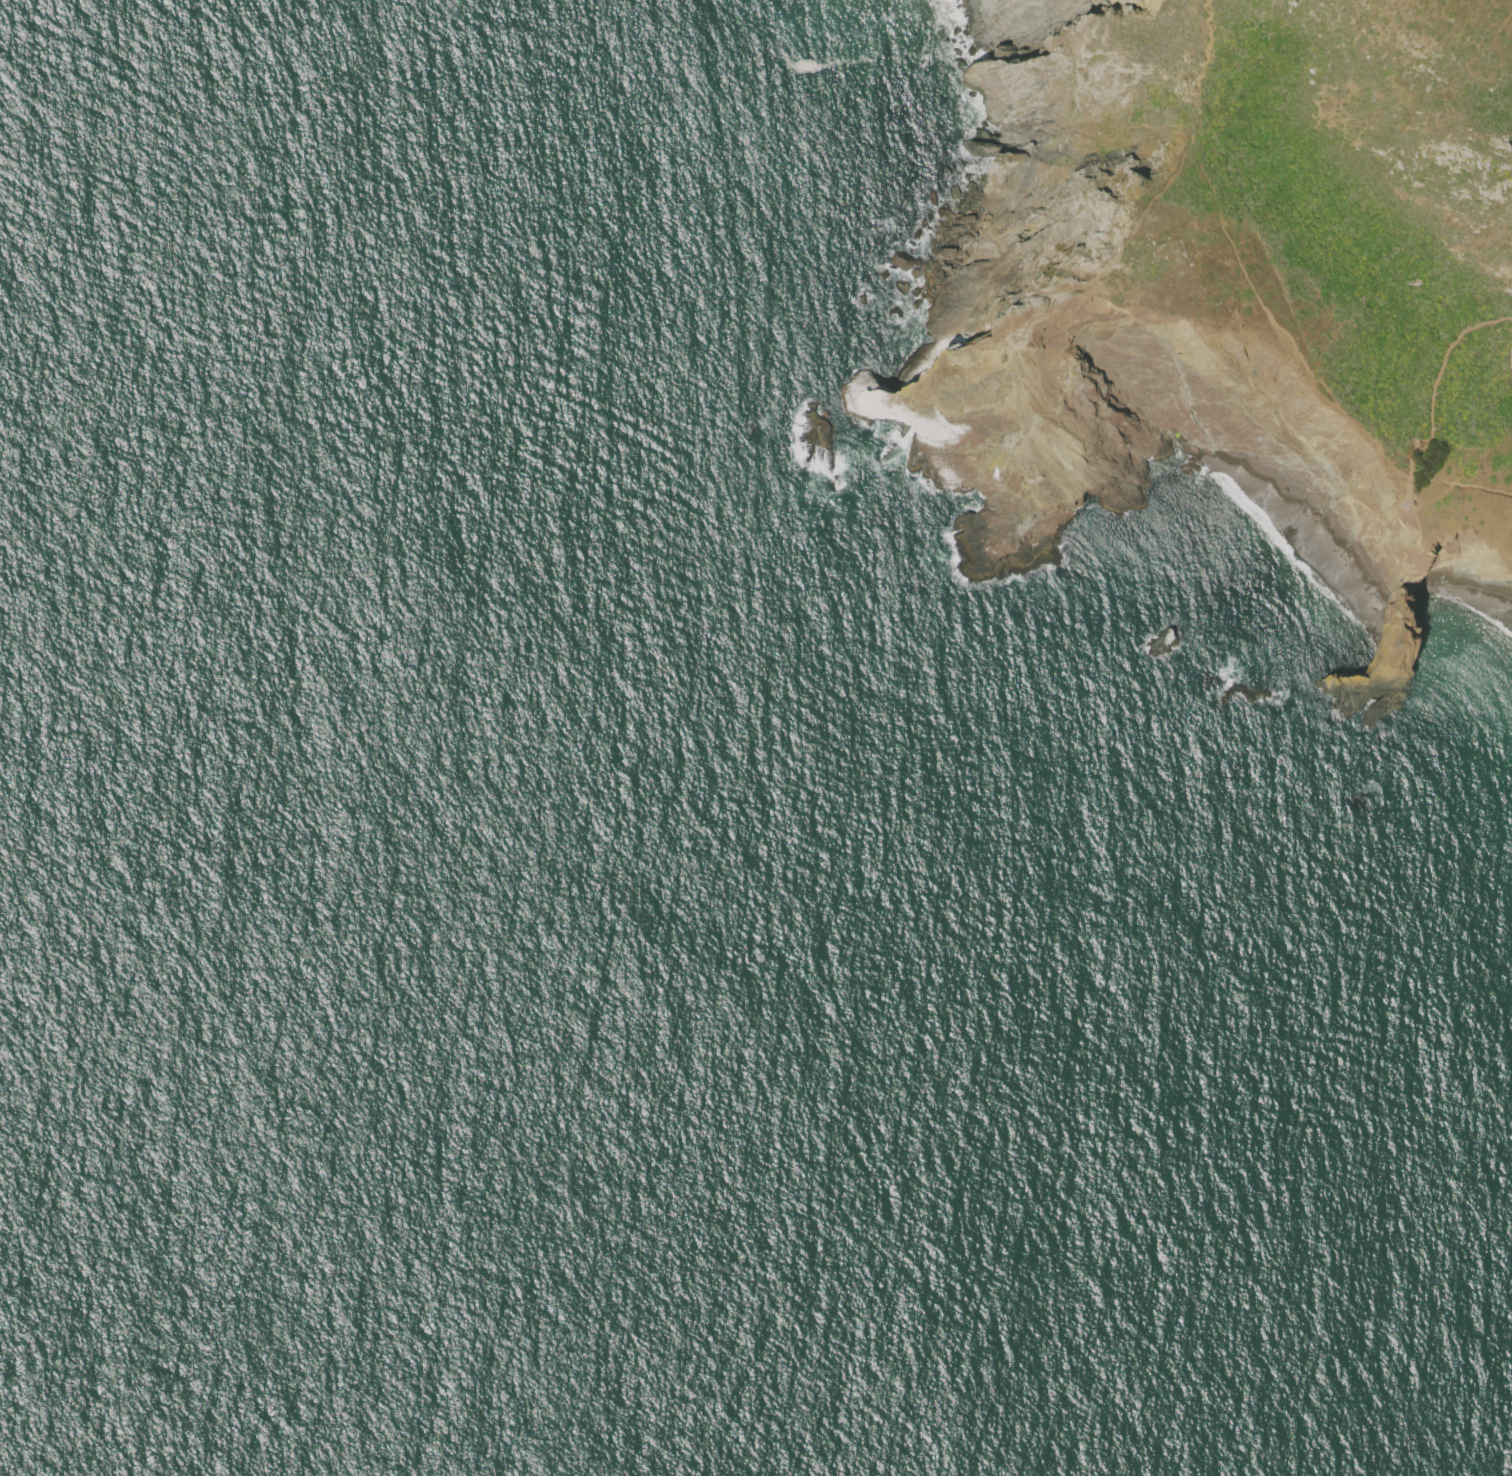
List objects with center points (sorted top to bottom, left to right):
road: (1157, 201)
road: (1240, 258)
road: (1511, 361)
road: (1429, 391)

